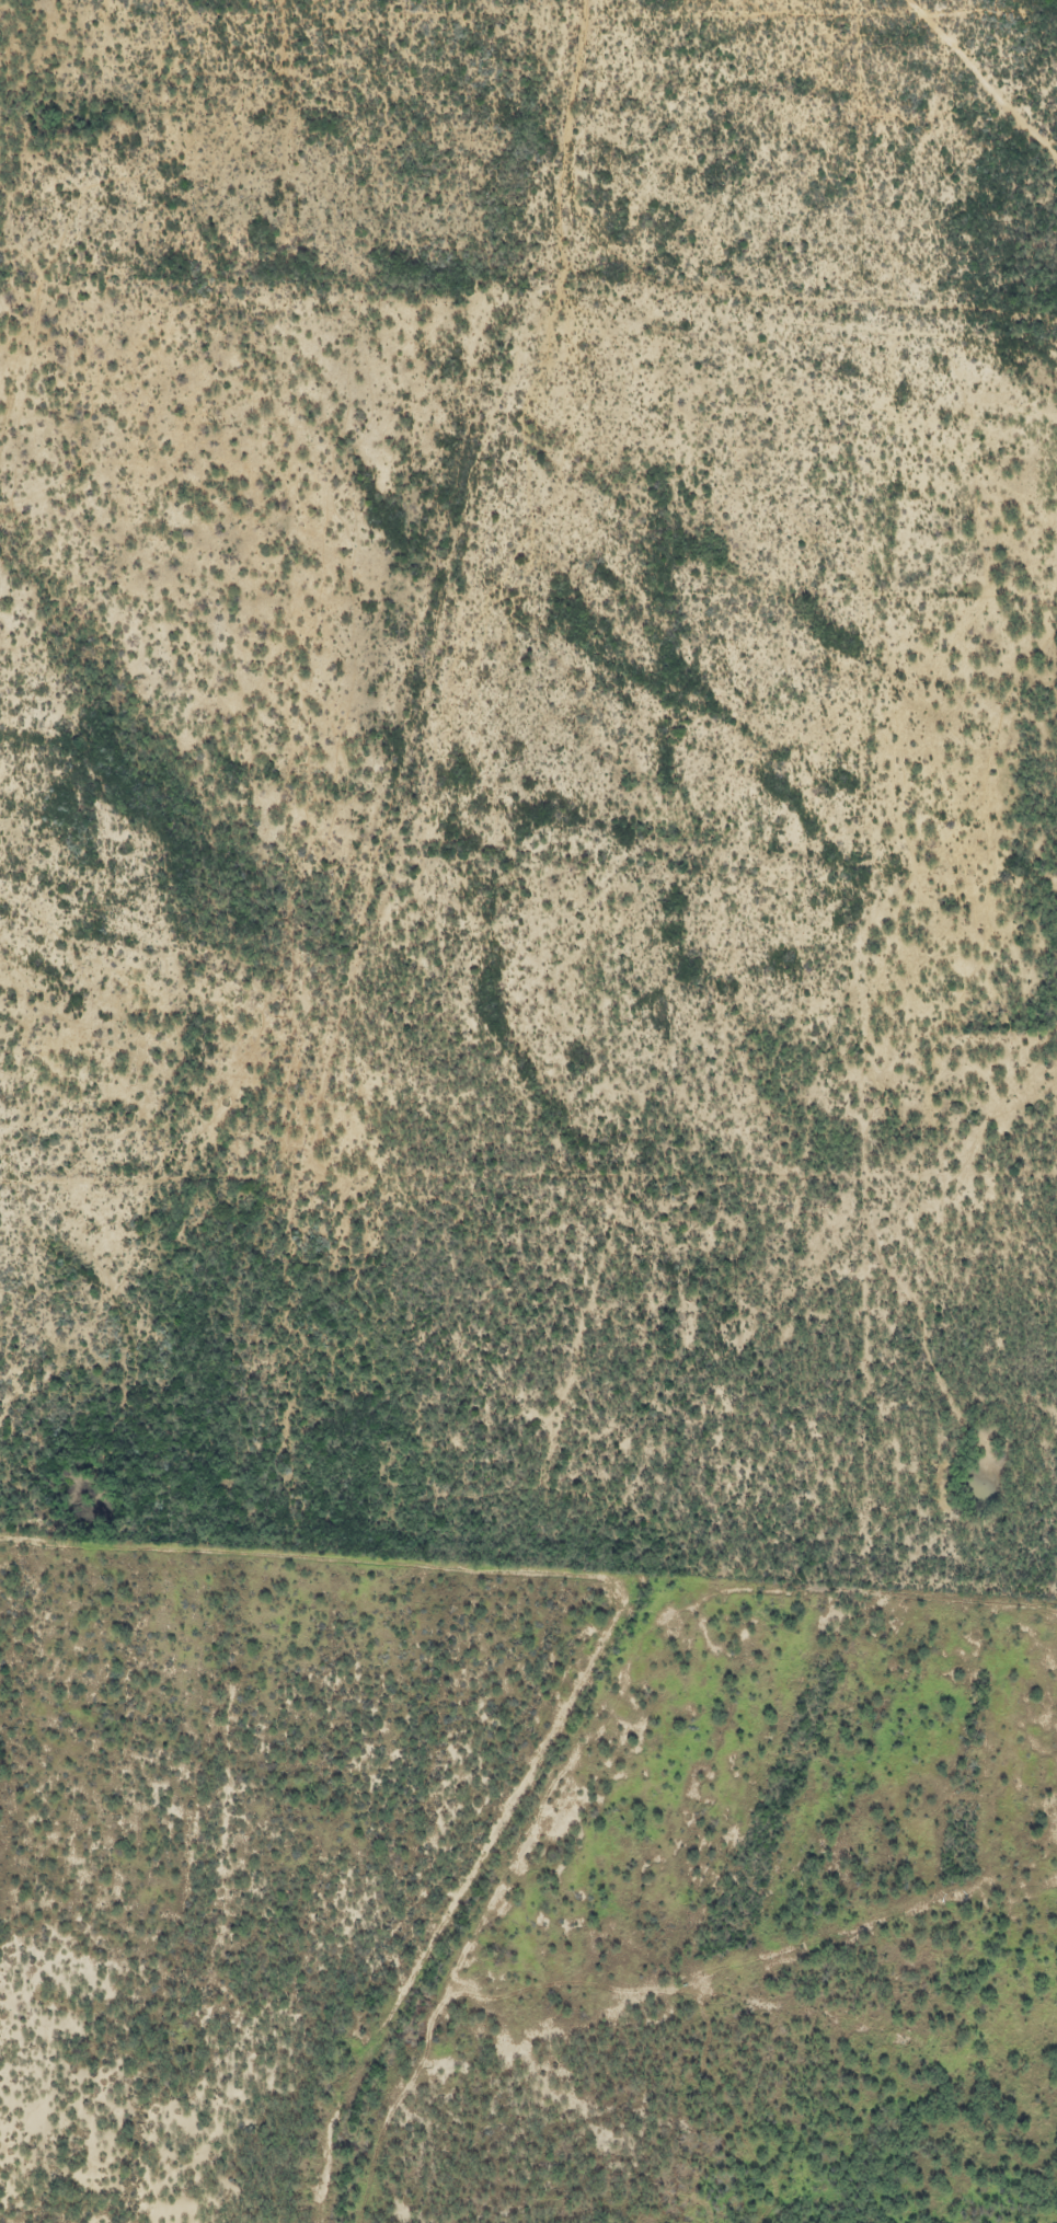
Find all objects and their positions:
road: (977, 85)

